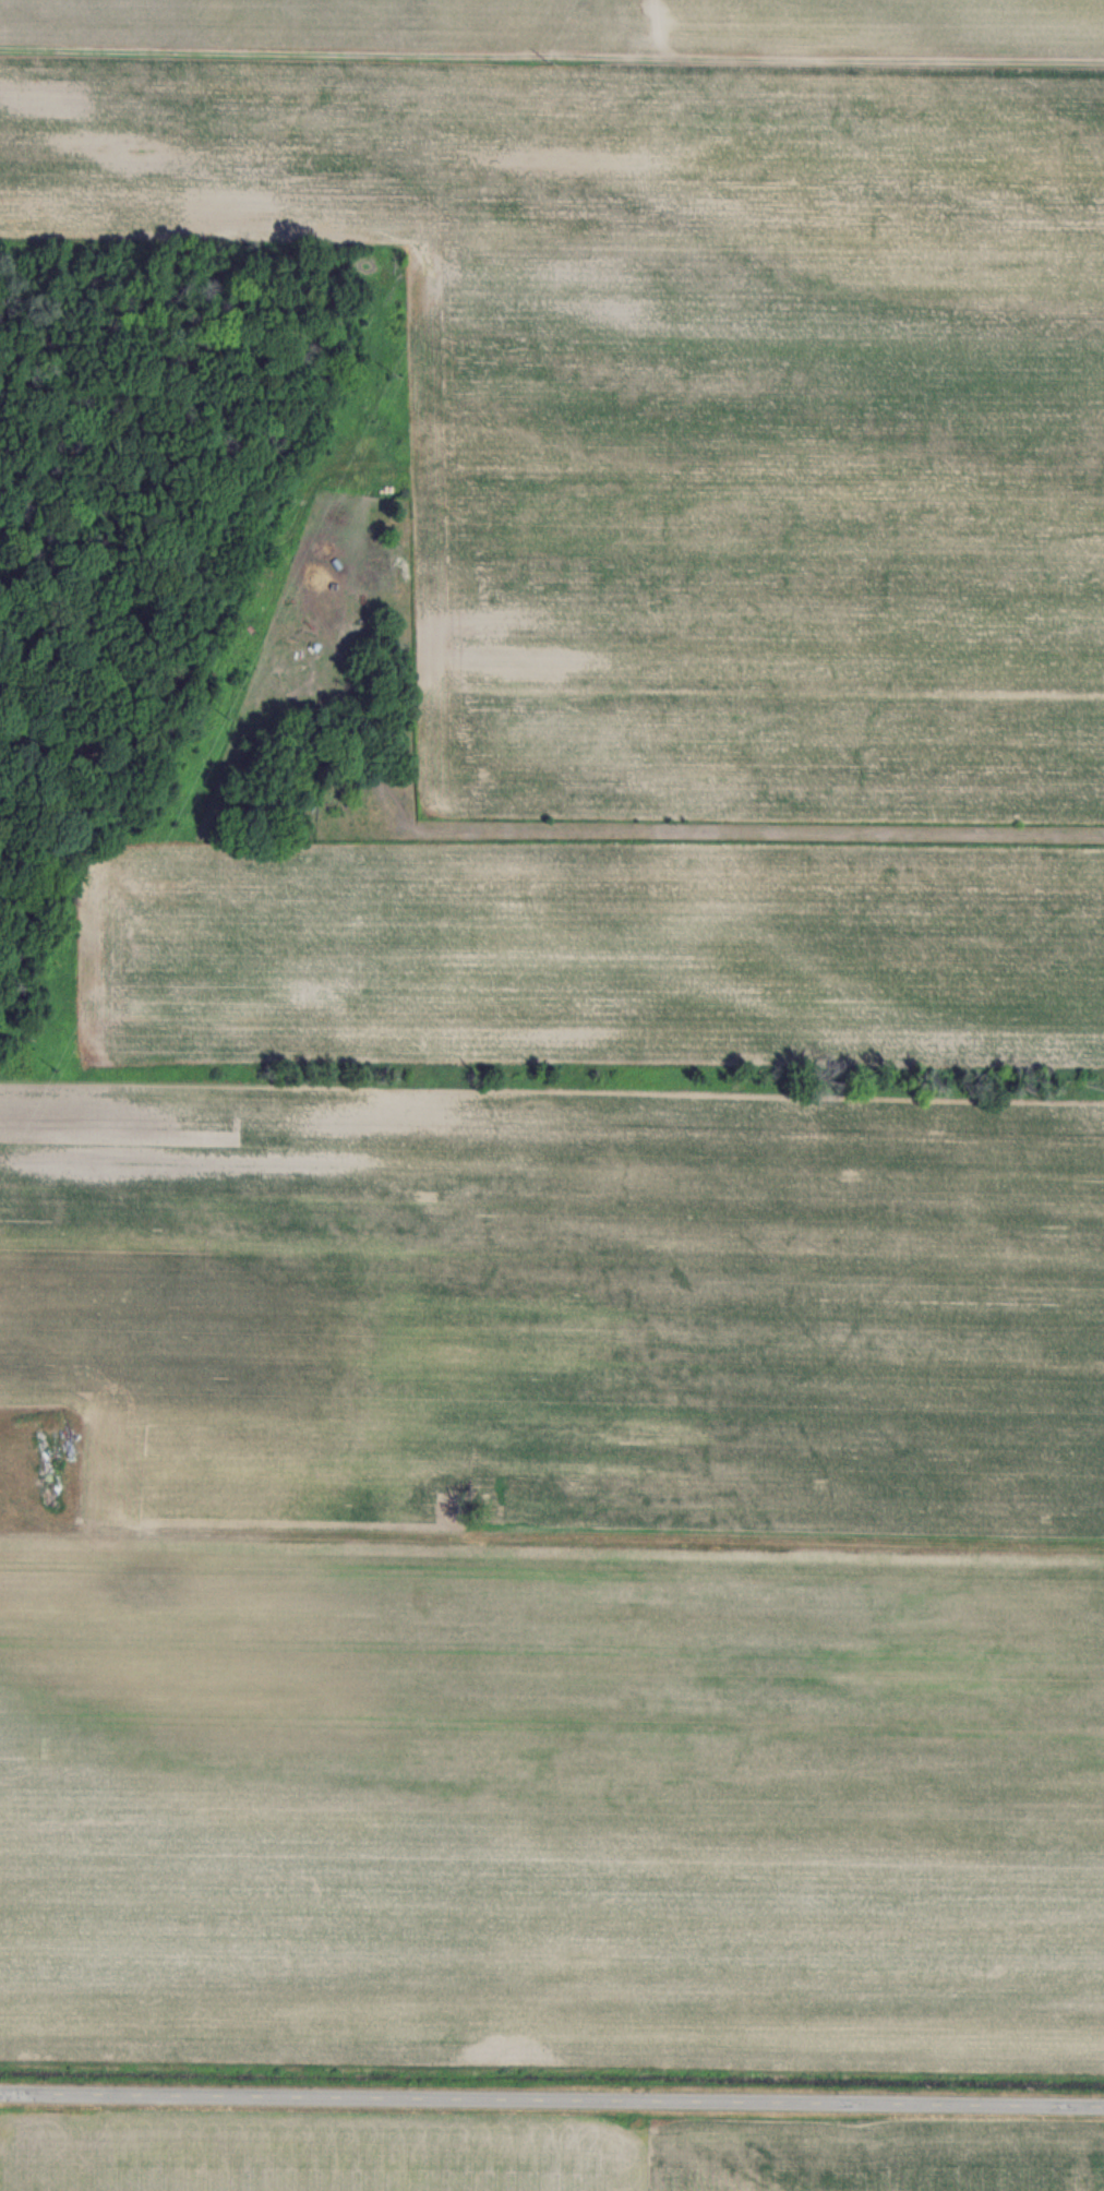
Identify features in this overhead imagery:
road: (552, 2098)

